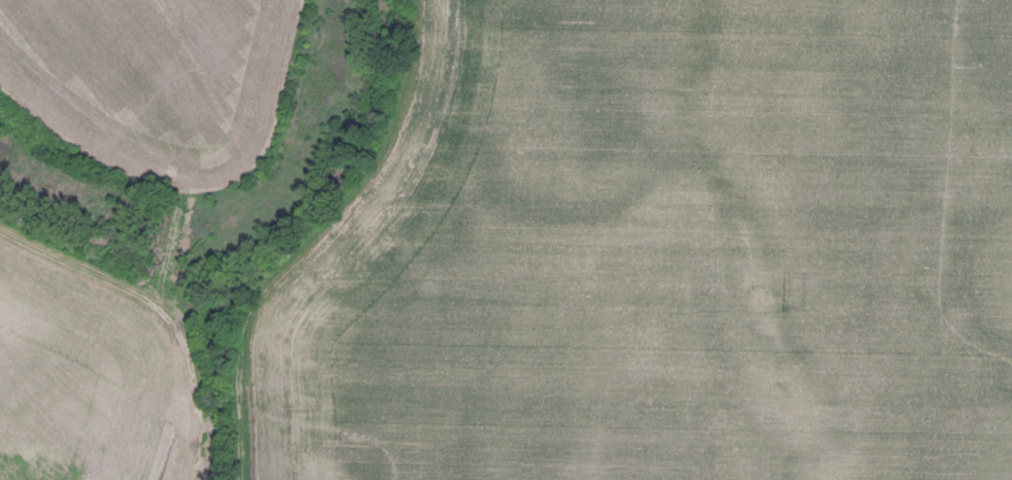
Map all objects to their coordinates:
road: (284, 240)
road: (102, 342)

